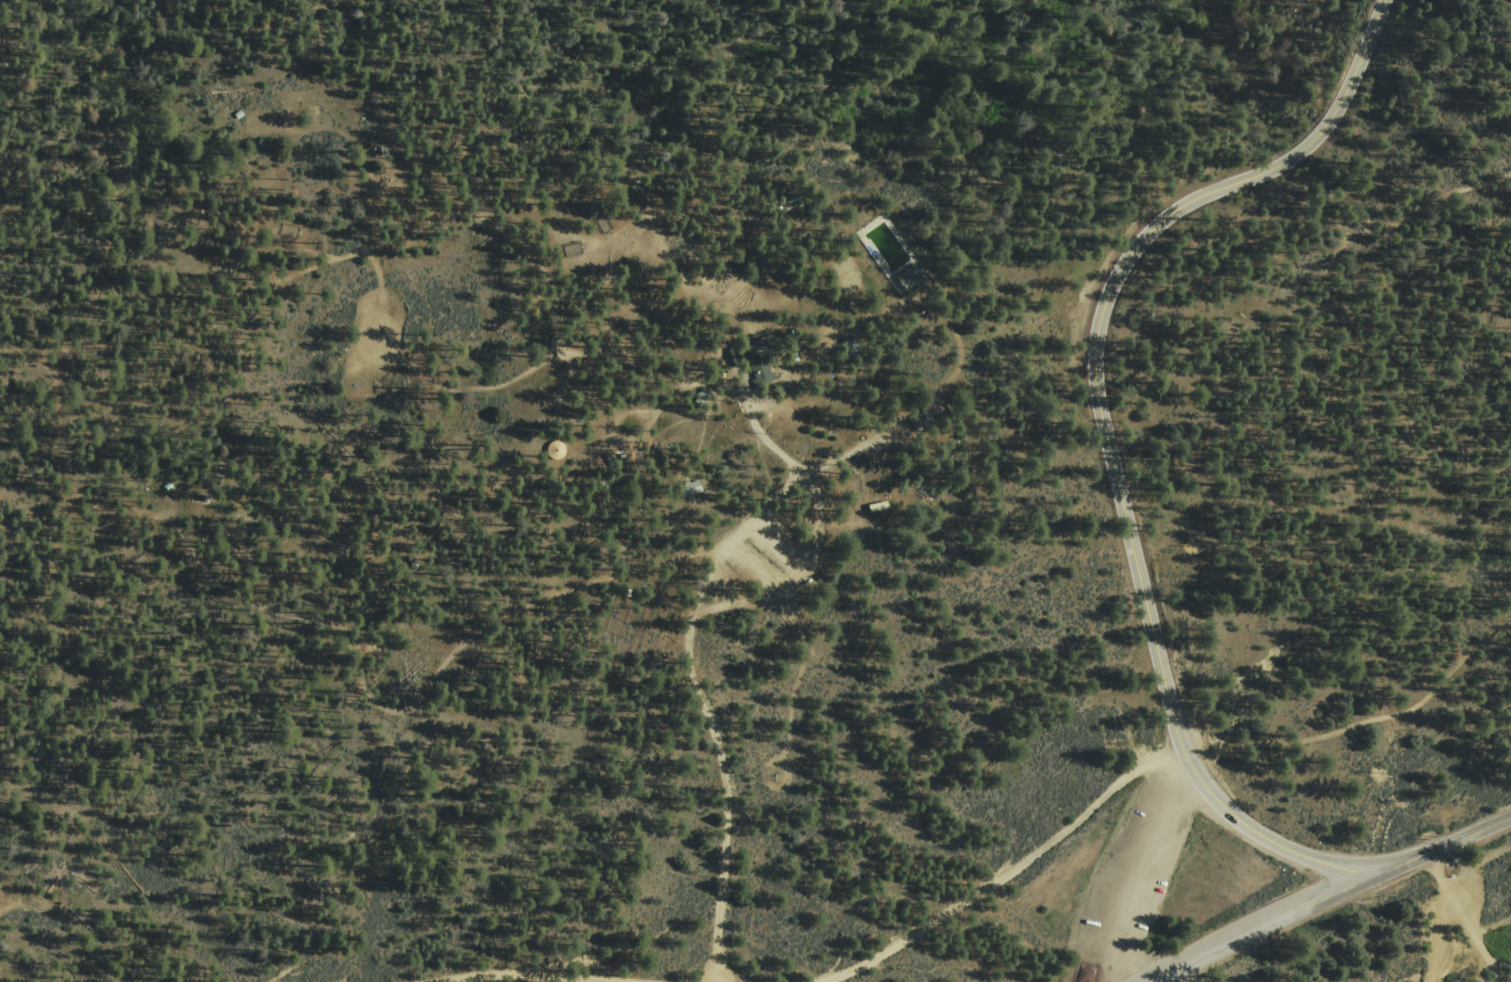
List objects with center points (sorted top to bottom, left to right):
building: (192, 218)
building: (604, 222)
road: (1356, 227)
building: (289, 230)
wastewater plant: (889, 246)
building: (574, 248)
road: (304, 268)
building: (221, 271)
building: (609, 276)
road: (544, 278)
building: (911, 278)
building: (851, 350)
road: (610, 356)
building: (757, 358)
road: (907, 408)
building: (921, 420)
road: (1106, 439)
building: (685, 487)
building: (881, 507)
road: (704, 706)
road: (1364, 722)
road: (1448, 844)
road: (1478, 864)
road: (1145, 871)
road: (1012, 872)
road: (1467, 918)
road: (1275, 924)
road: (1493, 926)
road: (1440, 938)
road: (897, 966)
road: (524, 978)
road: (0, 981)

